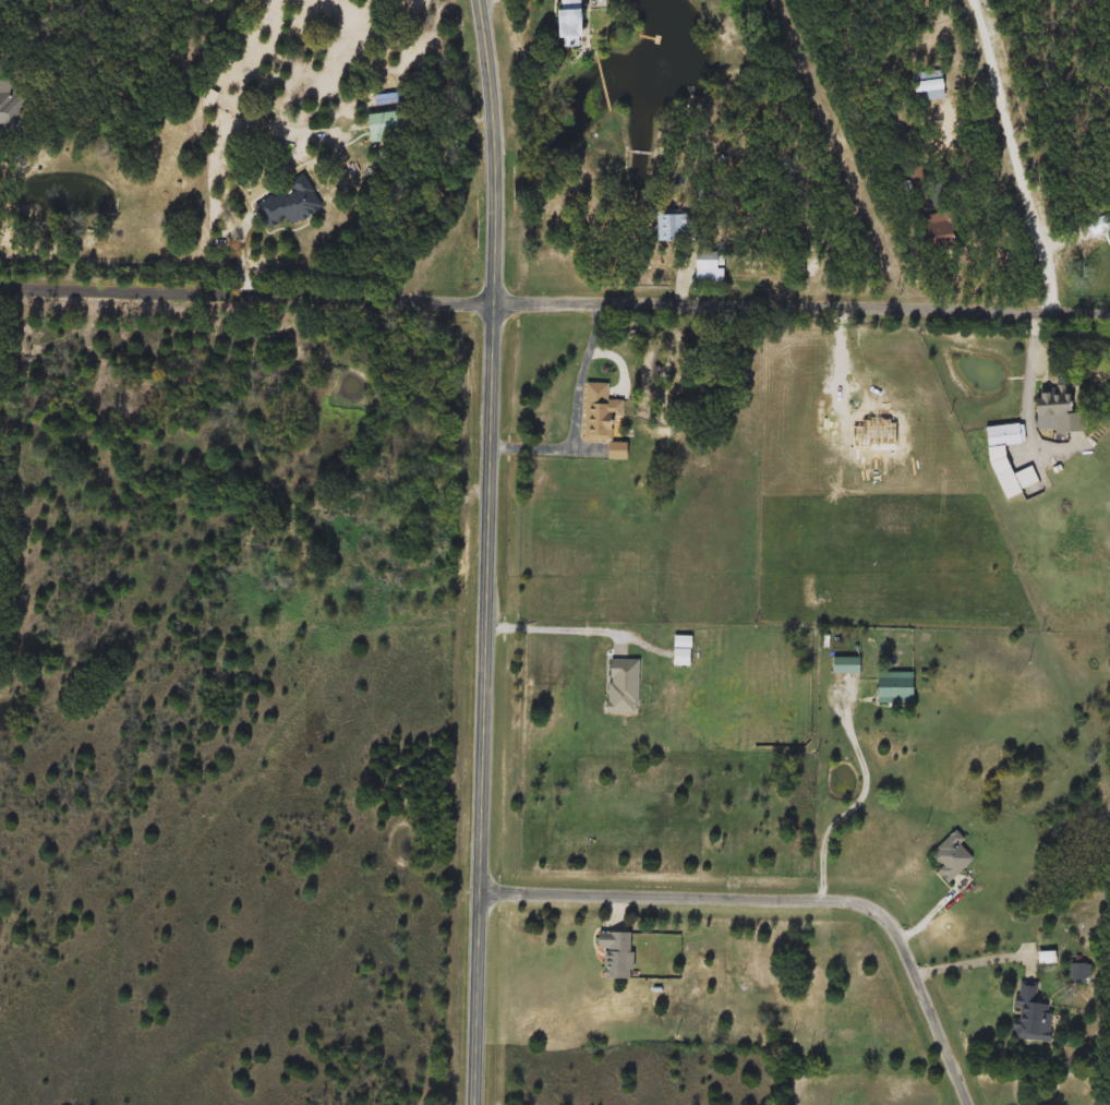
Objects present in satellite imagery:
building: (567, 22)
road: (975, 79)
building: (927, 86)
building: (11, 112)
building: (387, 127)
road: (1017, 154)
building: (288, 205)
road: (990, 205)
building: (675, 228)
building: (939, 233)
road: (246, 290)
road: (801, 304)
road: (1033, 384)
building: (1061, 408)
building: (600, 412)
road: (580, 416)
building: (1005, 435)
building: (627, 466)
building: (1017, 481)
road: (487, 552)
road: (556, 628)
building: (683, 651)
building: (625, 686)
building: (896, 689)
road: (864, 801)
building: (952, 856)
road: (787, 899)
building: (617, 954)
road: (981, 960)
building: (1078, 974)
building: (1031, 1016)

